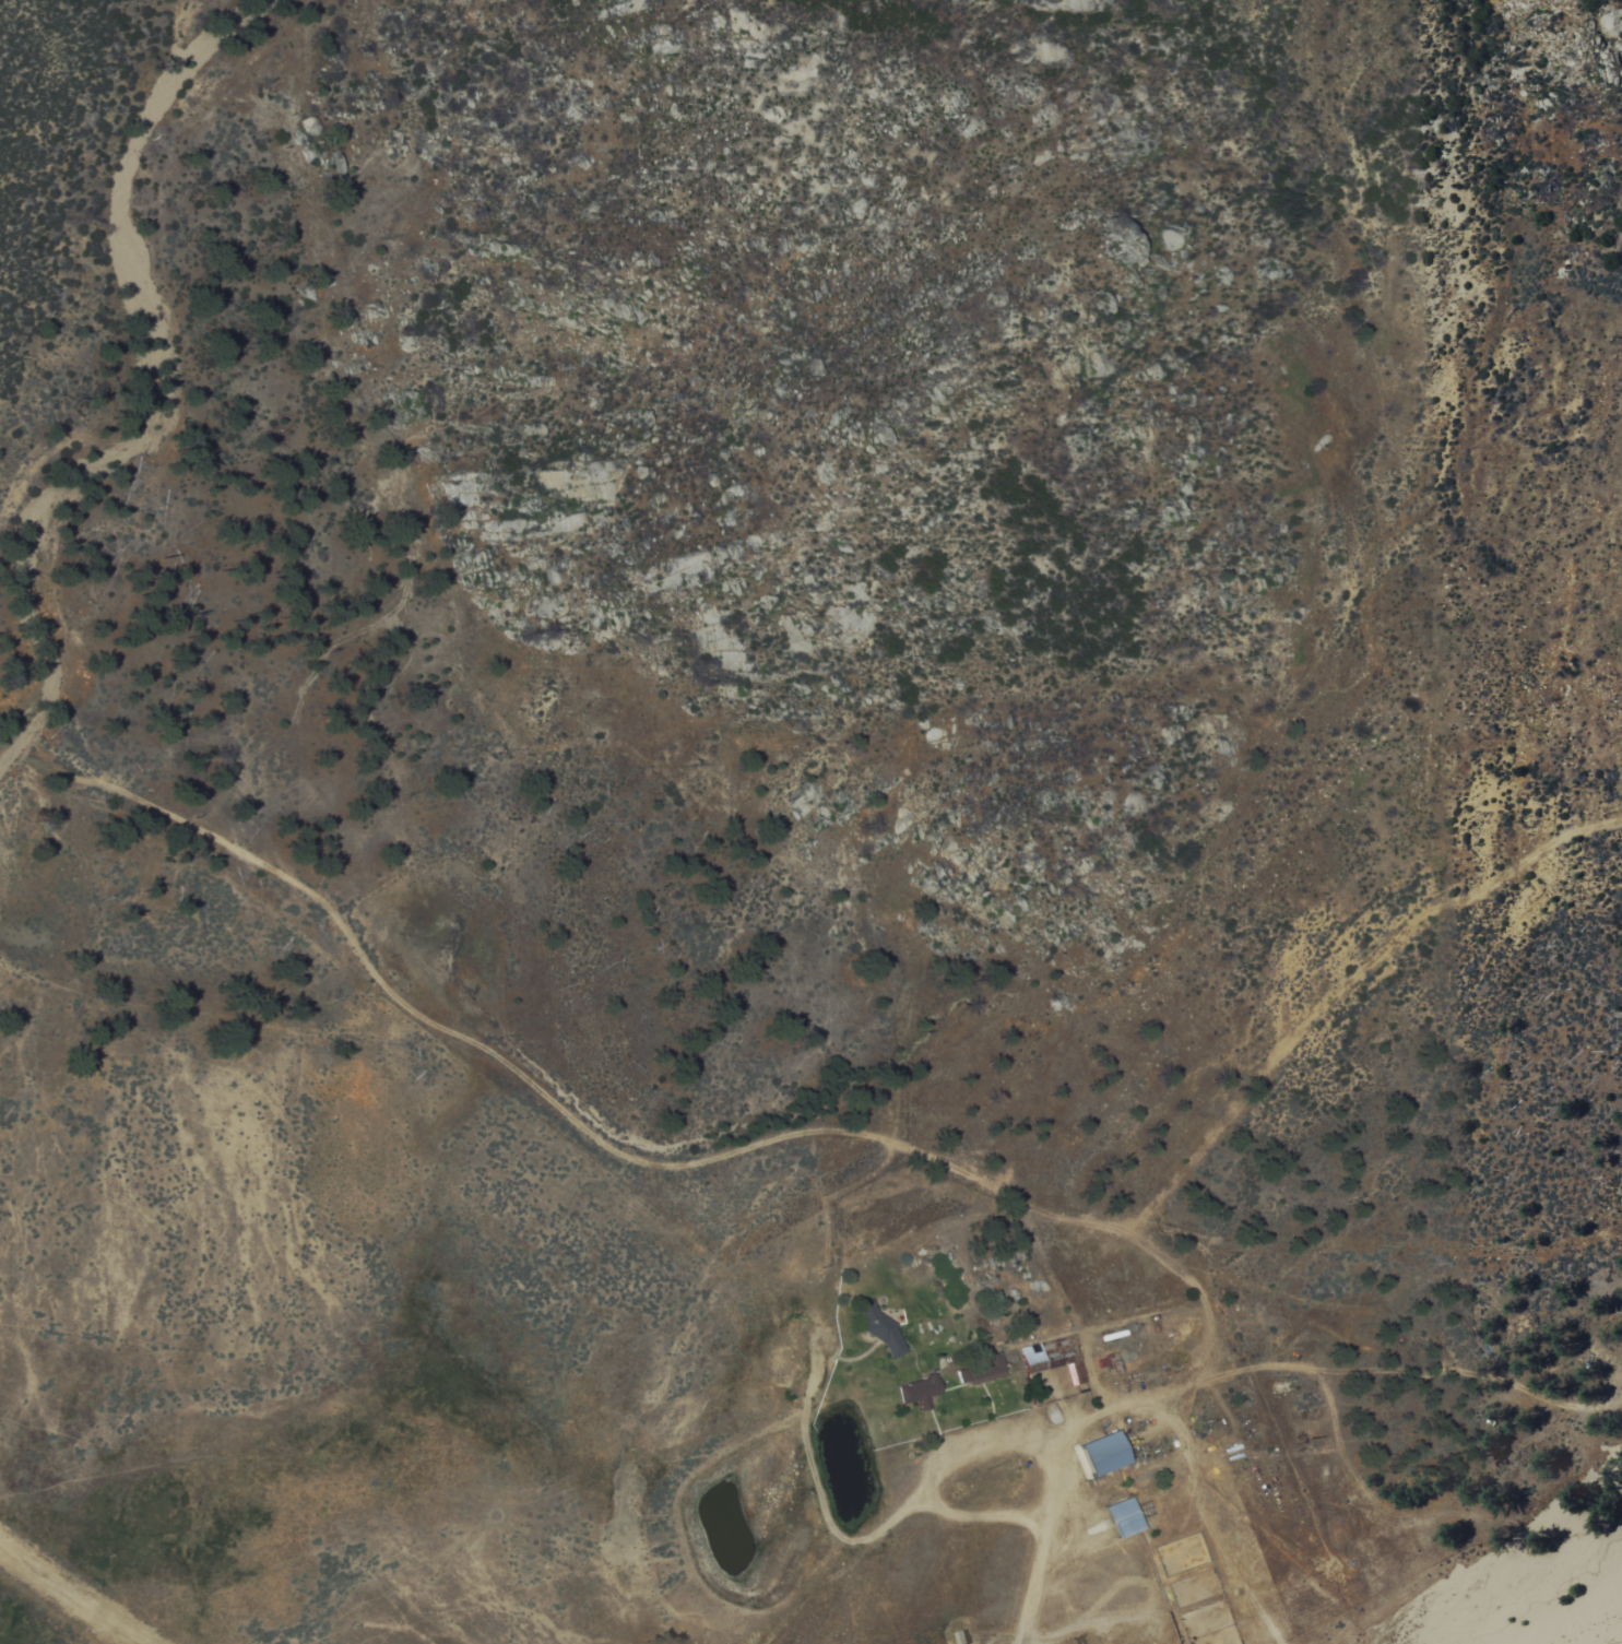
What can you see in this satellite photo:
road: (1322, 648)
road: (773, 1142)
building: (884, 1330)
building: (1110, 1454)
building: (1127, 1518)

